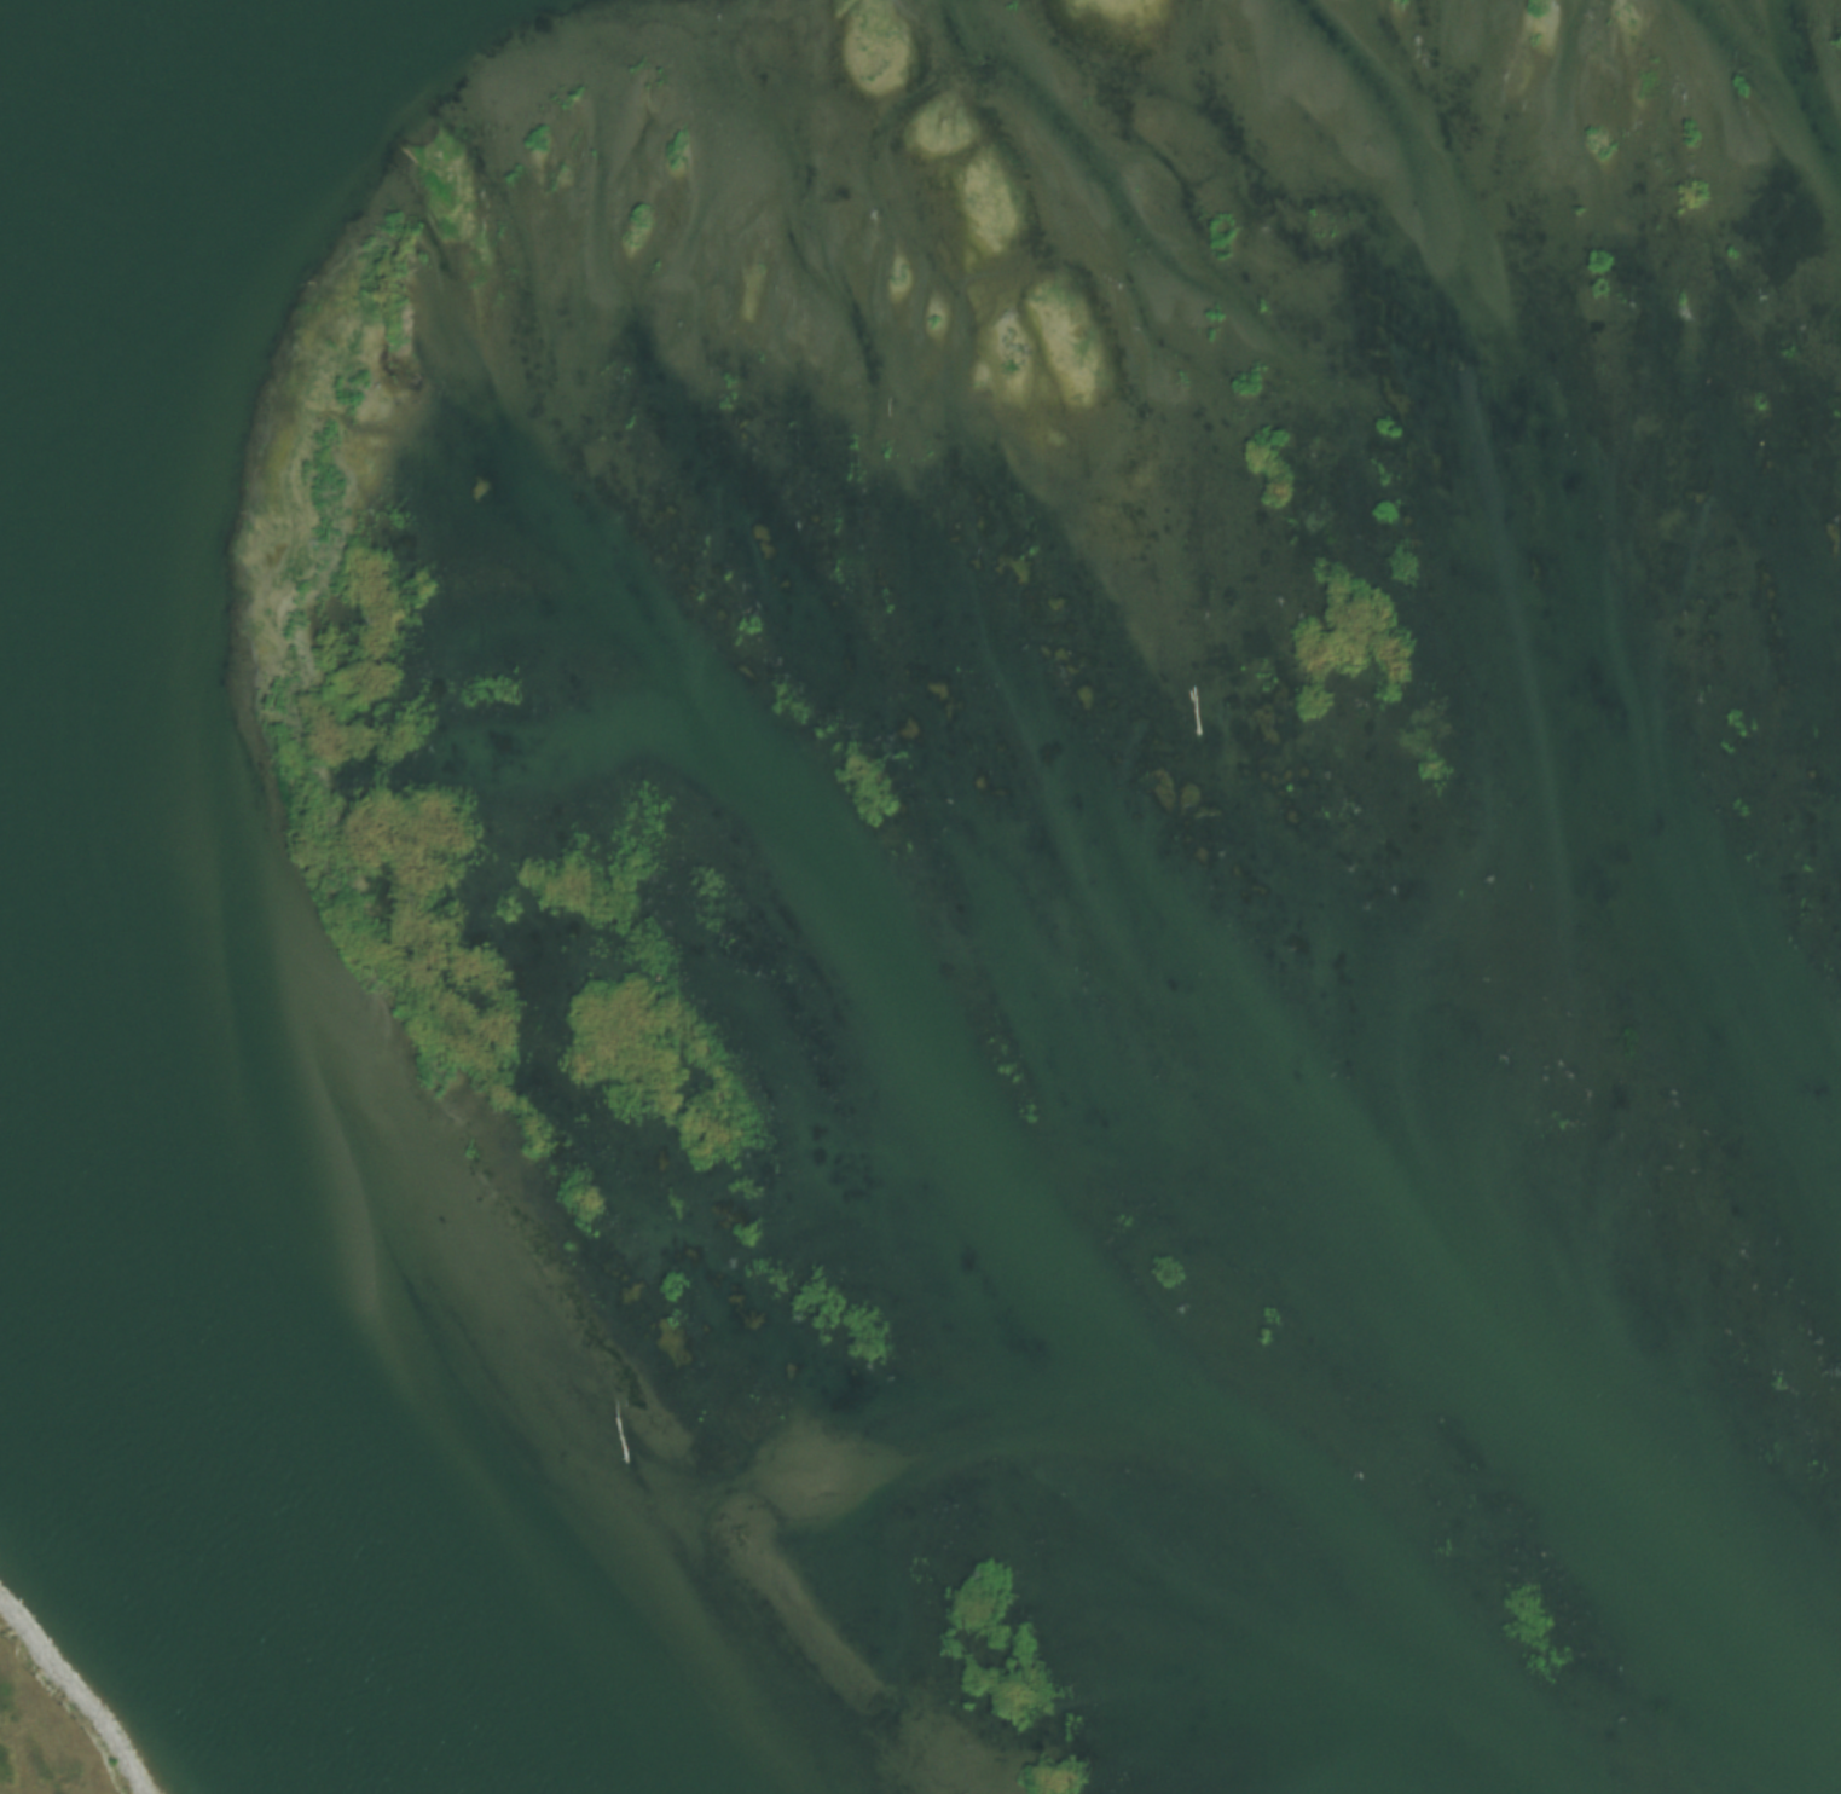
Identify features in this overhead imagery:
river: (1626, 914)

